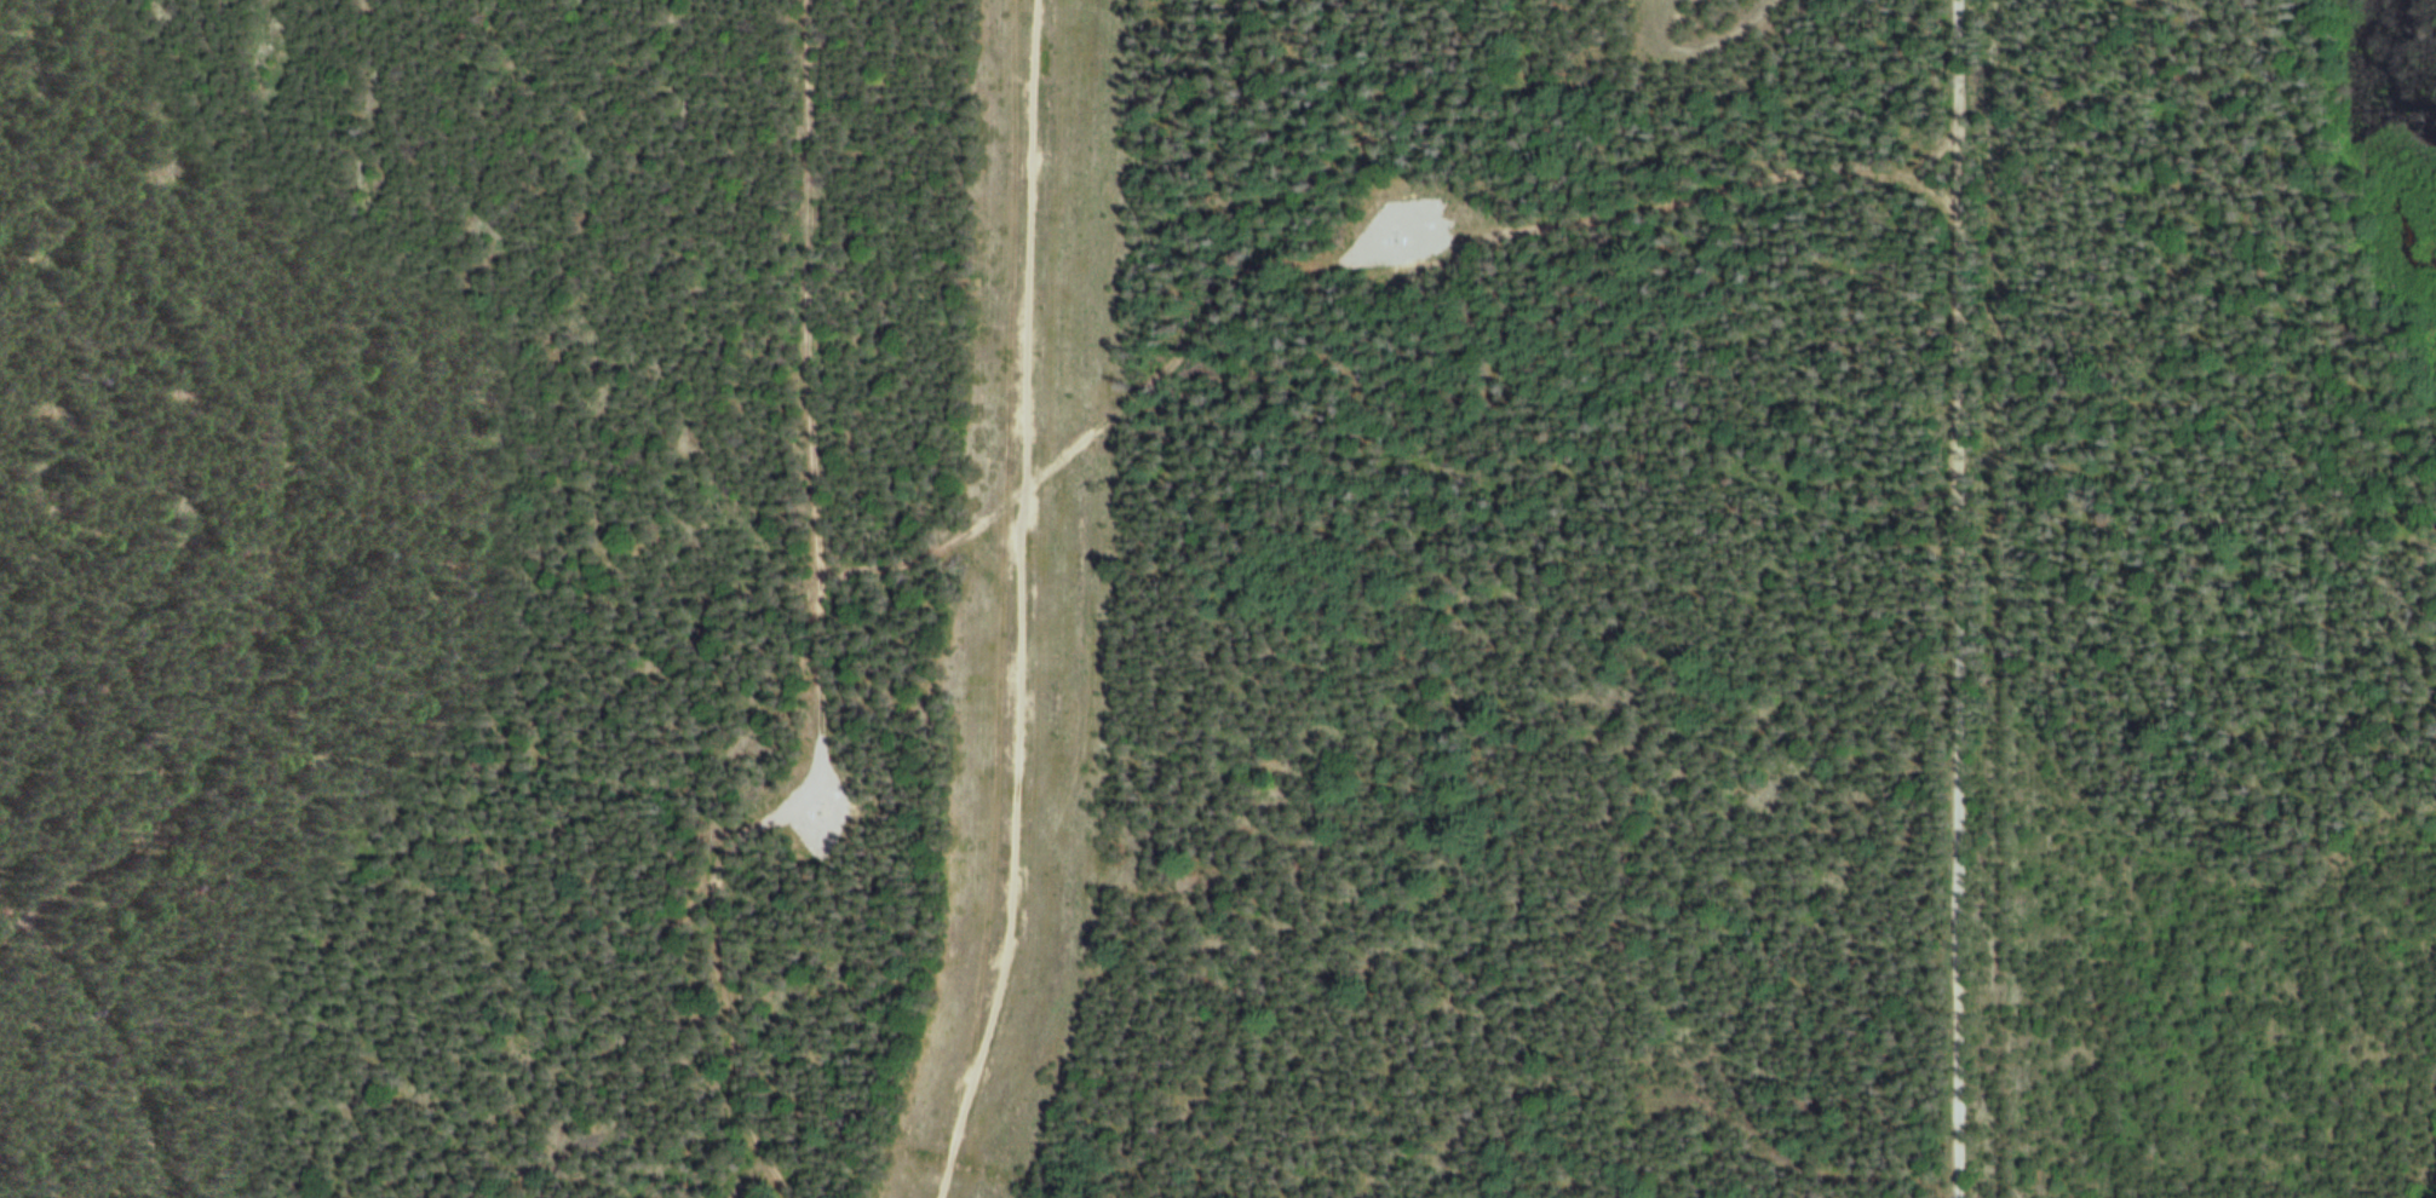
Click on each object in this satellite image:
road: (1345, 281)
road: (1961, 599)
road: (1015, 603)
road: (816, 621)
road: (110, 856)
road: (102, 1044)
road: (1908, 1186)

